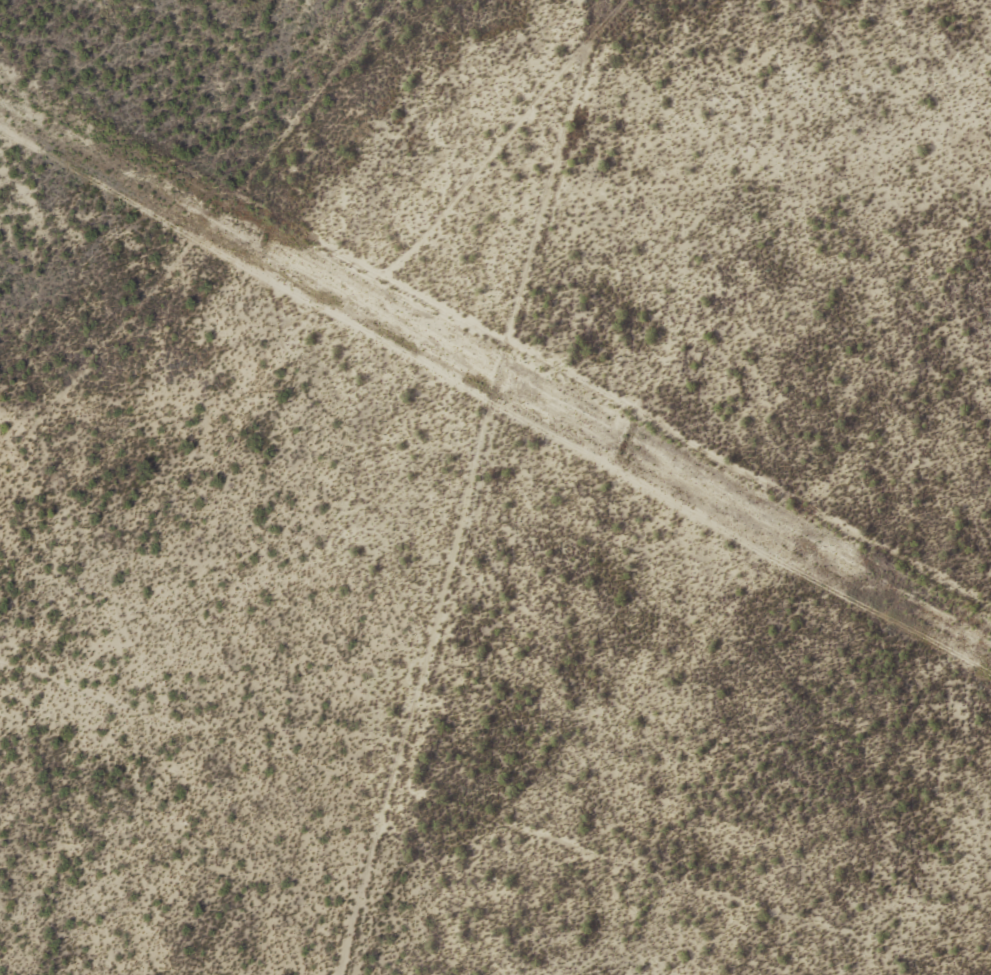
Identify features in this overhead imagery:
road: (362, 312)

